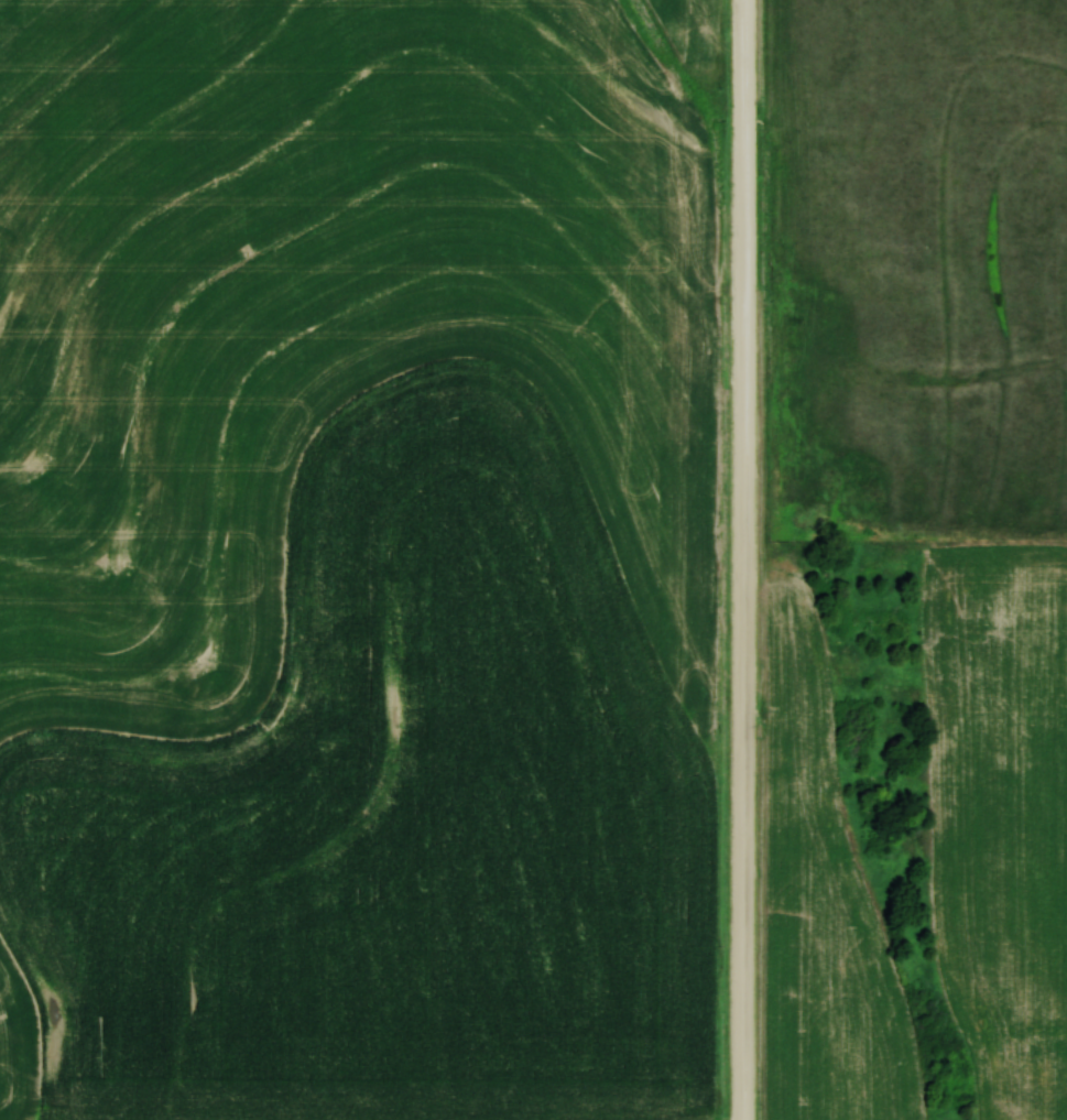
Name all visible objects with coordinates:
road: (744, 559)

